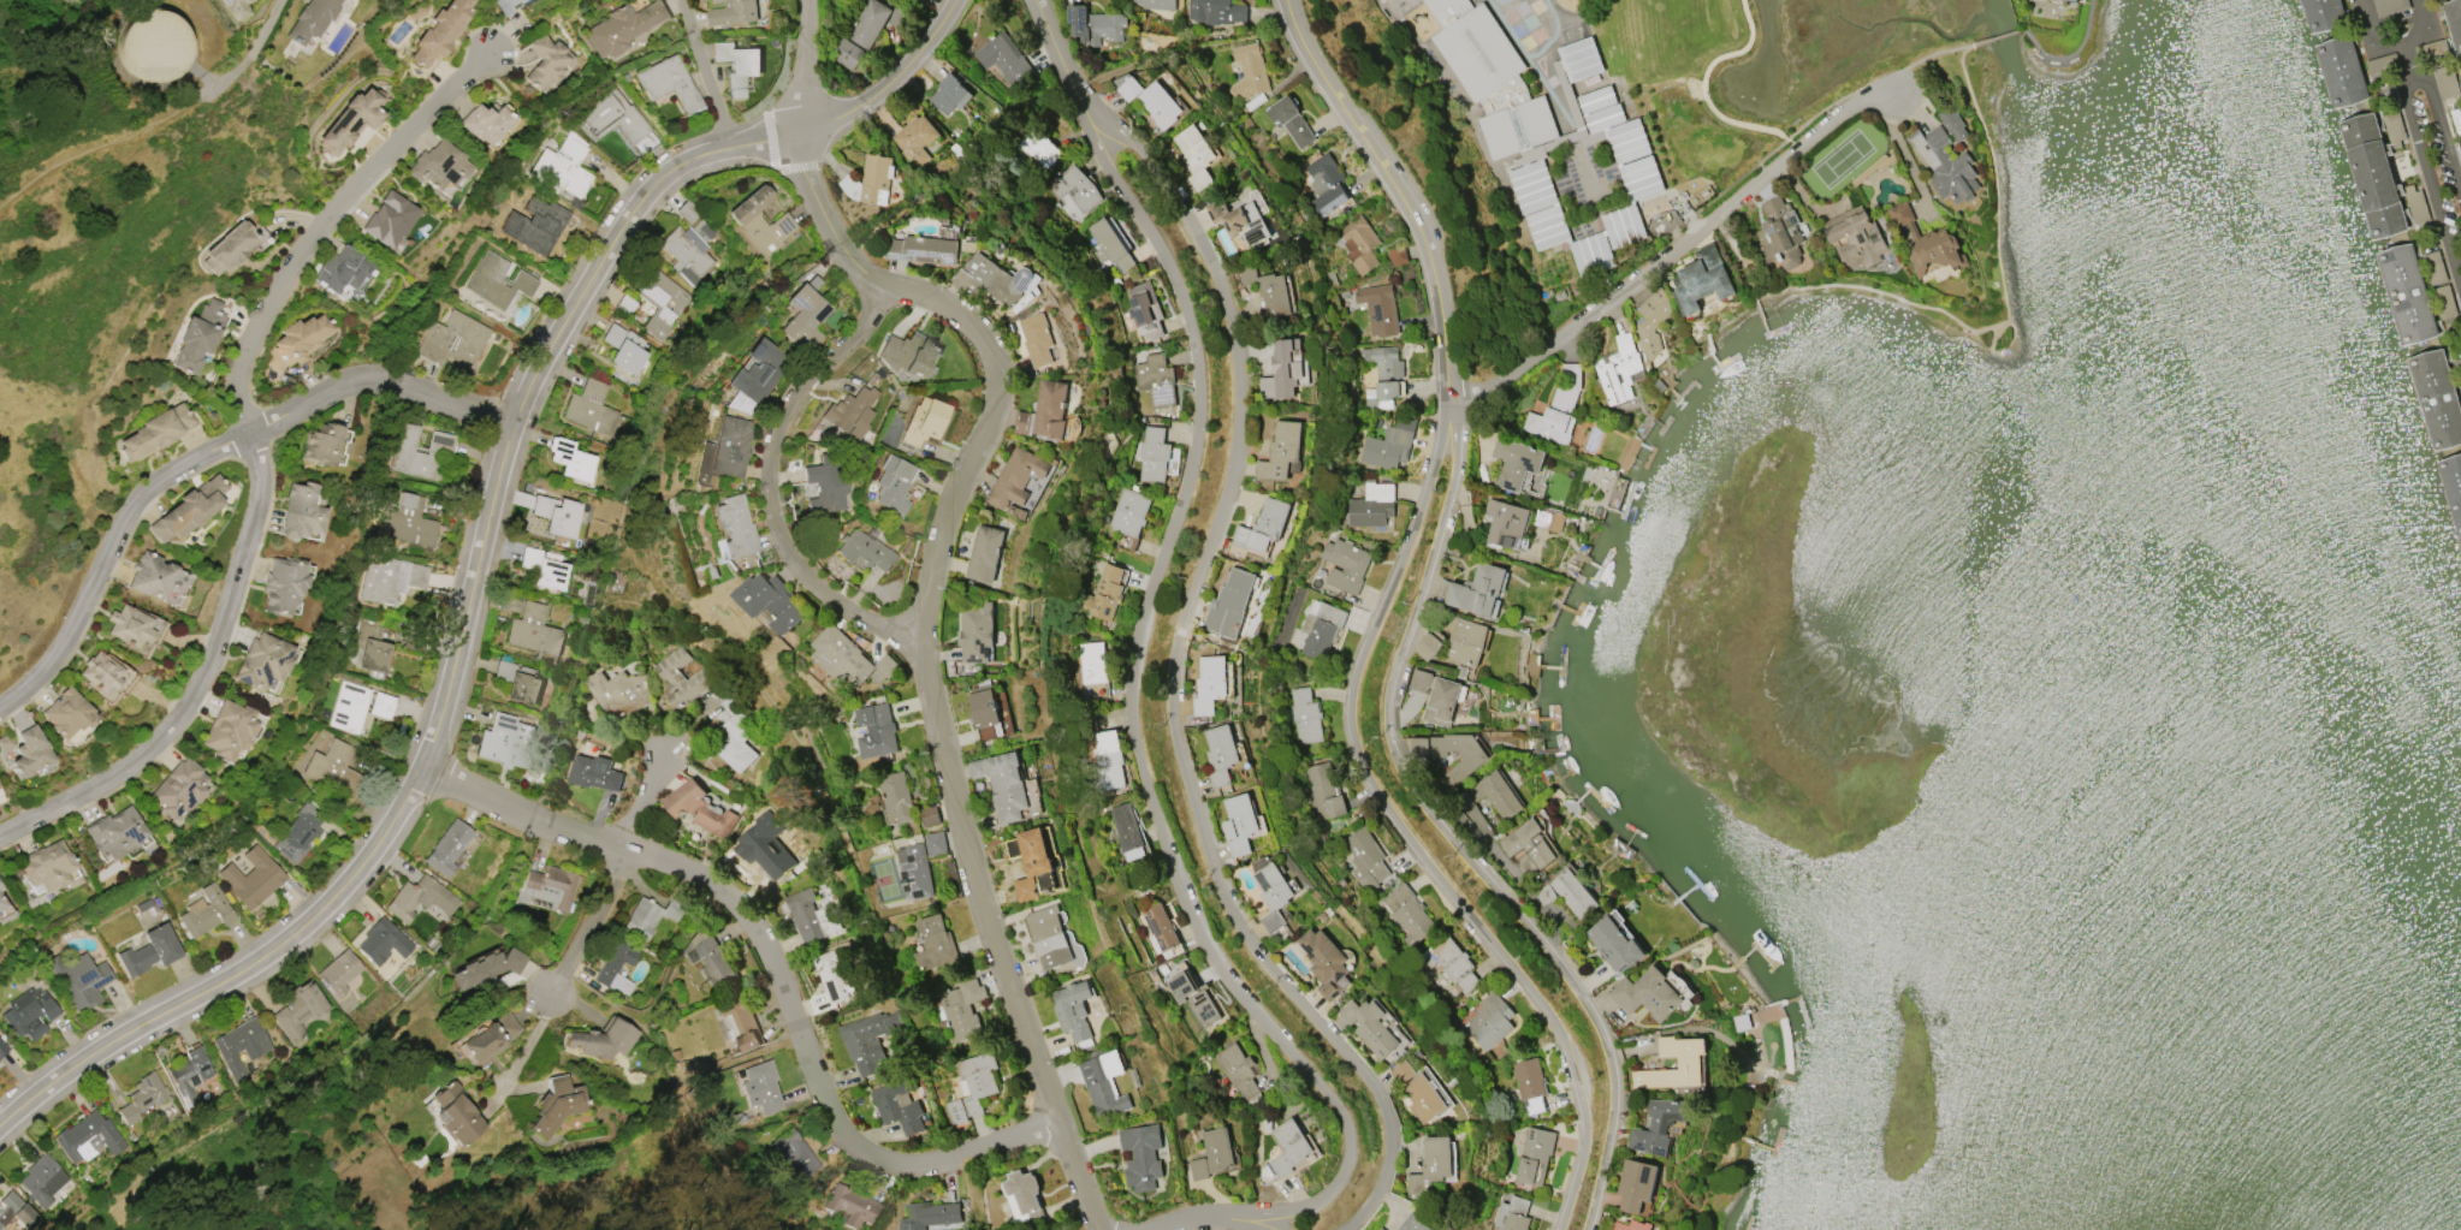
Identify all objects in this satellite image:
building: (2076, 0)
building: (1156, 4)
building: (511, 5)
building: (2391, 5)
building: (235, 10)
building: (1215, 10)
building: (2323, 11)
building: (733, 12)
pier: (2317, 13)
building: (310, 19)
building: (2454, 22)
building: (1099, 26)
building: (624, 28)
building: (440, 31)
track: (1510, 31)
building: (861, 34)
track: (1553, 35)
road: (1997, 38)
building: (154, 47)
road: (2391, 47)
road: (227, 53)
road: (1060, 53)
road: (2070, 57)
building: (1581, 59)
building: (1010, 60)
road: (1931, 60)
building: (546, 61)
building: (740, 61)
building: (2341, 67)
pier: (2333, 70)
building: (1250, 71)
road: (706, 77)
building: (1490, 77)
building: (2447, 81)
building: (670, 83)
building: (953, 93)
road: (1703, 93)
building: (1151, 99)
road: (2438, 115)
building: (615, 117)
building: (2456, 118)
building: (1293, 120)
building: (350, 121)
building: (485, 123)
building: (1953, 123)
building: (915, 138)
building: (1040, 148)
road: (1905, 153)
road: (93, 154)
building: (1196, 155)
building: (438, 165)
building: (1946, 165)
road: (2424, 165)
building: (564, 166)
pier: (2362, 172)
building: (2372, 172)
building: (876, 178)
building: (1530, 180)
building: (1326, 186)
building: (1074, 188)
road: (1396, 191)
building: (390, 220)
building: (1237, 220)
building: (761, 222)
building: (529, 226)
building: (1780, 233)
building: (1857, 238)
building: (1928, 242)
building: (1359, 243)
building: (1113, 245)
road: (1674, 245)
building: (229, 248)
building: (923, 249)
building: (690, 251)
building: (340, 269)
building: (989, 280)
building: (1702, 280)
building: (498, 281)
building: (1269, 289)
building: (2407, 290)
building: (1558, 293)
pier: (2397, 293)
building: (2444, 301)
building: (664, 304)
building: (1146, 308)
building: (1380, 308)
building: (805, 317)
building: (1651, 322)
road: (1974, 328)
building: (198, 335)
building: (1038, 338)
building: (298, 341)
building: (457, 343)
building: (627, 349)
road: (2006, 353)
building: (908, 356)
building: (1618, 369)
building: (1283, 370)
building: (1384, 375)
building: (759, 378)
building: (1157, 380)
building: (2437, 393)
pier: (2425, 394)
building: (1559, 406)
building: (593, 409)
building: (850, 410)
building: (1045, 411)
building: (926, 423)
building: (154, 433)
building: (321, 445)
building: (1390, 445)
building: (731, 446)
building: (1282, 450)
building: (419, 452)
building: (1155, 454)
road: (259, 457)
road: (204, 459)
building: (570, 459)
building: (1516, 462)
building: (1018, 477)
building: (2453, 483)
building: (1530, 485)
road: (773, 486)
building: (895, 486)
pier: (2450, 489)
building: (825, 491)
building: (522, 499)
building: (1372, 504)
building: (188, 510)
building: (301, 511)
building: (558, 516)
building: (1131, 518)
building: (1553, 521)
building: (409, 522)
building: (1505, 524)
building: (1265, 525)
building: (737, 527)
building: (866, 549)
building: (986, 553)
road: (478, 561)
building: (1346, 564)
building: (545, 569)
building: (152, 576)
road: (933, 576)
building: (391, 578)
building: (283, 586)
building: (1478, 589)
building: (1103, 594)
building: (771, 600)
building: (1230, 604)
building: (128, 626)
building: (1322, 628)
building: (534, 630)
building: (975, 635)
building: (1466, 642)
building: (1428, 646)
building: (370, 647)
building: (842, 654)
building: (263, 661)
building: (1095, 666)
building: (101, 672)
road: (1178, 673)
building: (682, 677)
building: (518, 682)
building: (1210, 683)
building: (623, 693)
building: (1440, 694)
road: (1138, 703)
building: (357, 706)
building: (986, 713)
building: (66, 714)
building: (1306, 715)
building: (231, 729)
building: (877, 730)
building: (506, 742)
building: (6, 743)
building: (737, 744)
building: (29, 751)
building: (1221, 754)
building: (1107, 761)
building: (1463, 767)
building: (333, 768)
building: (593, 773)
building: (1003, 783)
building: (182, 788)
building: (1324, 791)
building: (1494, 794)
building: (897, 797)
road: (648, 804)
building: (701, 809)
building: (930, 815)
building: (1240, 824)
building: (118, 832)
building: (298, 832)
building: (1127, 832)
road: (1406, 832)
road: (1452, 832)
building: (1526, 842)
building: (936, 843)
building: (447, 848)
building: (1366, 854)
building: (764, 855)
building: (1036, 863)
building: (51, 866)
building: (915, 872)
building: (251, 878)
building: (1, 887)
building: (550, 887)
building: (1575, 893)
building: (1274, 895)
building: (422, 898)
building: (5, 911)
building: (206, 911)
building: (1409, 914)
building: (651, 916)
building: (812, 916)
road: (588, 926)
building: (1160, 928)
building: (1050, 937)
building: (383, 943)
building: (936, 943)
building: (1614, 943)
building: (150, 951)
building: (714, 963)
building: (1327, 963)
building: (1454, 964)
road: (776, 965)
building: (616, 968)
building: (486, 969)
building: (338, 971)
building: (832, 974)
building: (78, 979)
building: (1648, 993)
building: (1196, 999)
building: (296, 1009)
building: (1074, 1010)
building: (30, 1014)
building: (960, 1014)
building: (1490, 1021)
building: (741, 1024)
building: (1371, 1027)
building: (488, 1039)
building: (868, 1039)
building: (603, 1040)
building: (238, 1046)
building: (2, 1048)
road: (529, 1050)
building: (1689, 1063)
building: (1239, 1069)
building: (186, 1074)
building: (978, 1080)
building: (1531, 1086)
building: (761, 1087)
building: (1105, 1087)
building: (142, 1099)
building: (1423, 1099)
building: (557, 1105)
building: (897, 1106)
building: (457, 1115)
building: (1658, 1125)
building: (89, 1139)
building: (1289, 1146)
building: (799, 1153)
building: (1140, 1154)
building: (1214, 1154)
building: (1535, 1157)
building: (1433, 1165)
building: (43, 1180)
building: (1636, 1184)
building: (1025, 1199)
building: (855, 1206)
building: (16, 1212)
building: (935, 1213)
building: (1513, 1214)
road: (1215, 1220)
building: (1413, 1223)
building: (1633, 1225)
road: (1267, 1226)
building: (1381, 1229)

